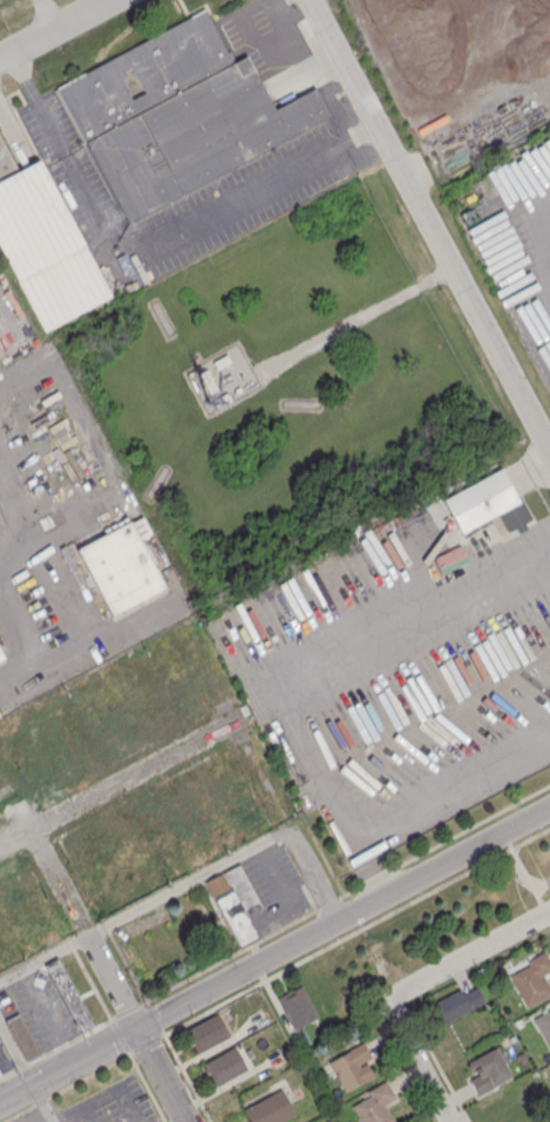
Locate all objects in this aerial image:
road: (46, 14)
road: (54, 29)
road: (295, 48)
building: (144, 75)
road: (37, 103)
building: (195, 137)
building: (5, 162)
road: (203, 223)
road: (428, 225)
building: (46, 248)
road: (547, 277)
road: (355, 321)
building: (222, 360)
building: (207, 381)
park: (287, 394)
building: (221, 400)
building: (485, 503)
building: (121, 565)
road: (405, 607)
road: (86, 649)
building: (1, 654)
building: (1, 662)
road: (123, 782)
park: (541, 857)
road: (525, 876)
road: (189, 880)
road: (541, 885)
building: (235, 902)
road: (274, 954)
road: (468, 954)
building: (532, 979)
road: (111, 983)
building: (68, 995)
building: (457, 1005)
building: (298, 1007)
building: (545, 1025)
building: (206, 1032)
building: (22, 1036)
road: (415, 1063)
building: (224, 1066)
building: (352, 1068)
building: (487, 1071)
road: (25, 1073)
road: (160, 1075)
building: (0, 1077)
parking lot: (112, 1103)
building: (374, 1103)
building: (269, 1108)

